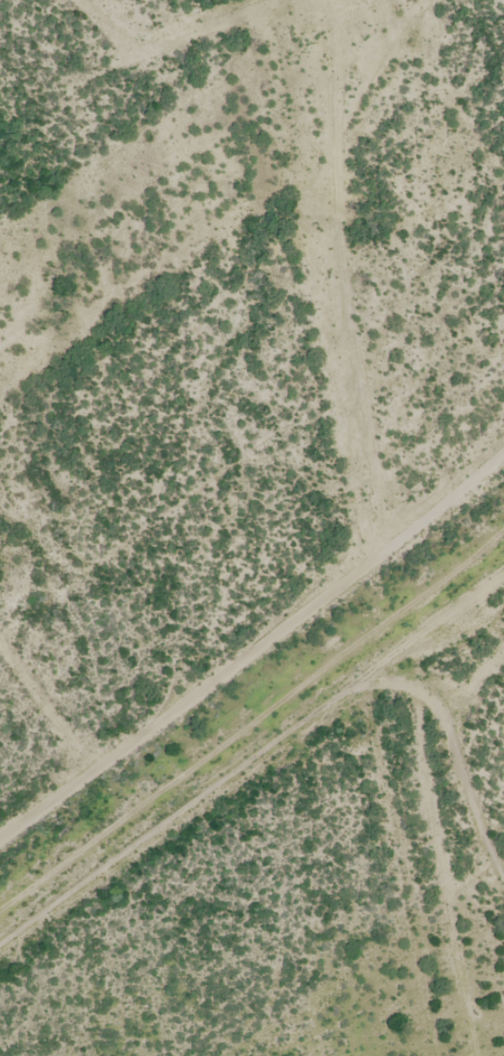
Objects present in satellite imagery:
road: (446, 69)
road: (339, 615)
road: (251, 776)

